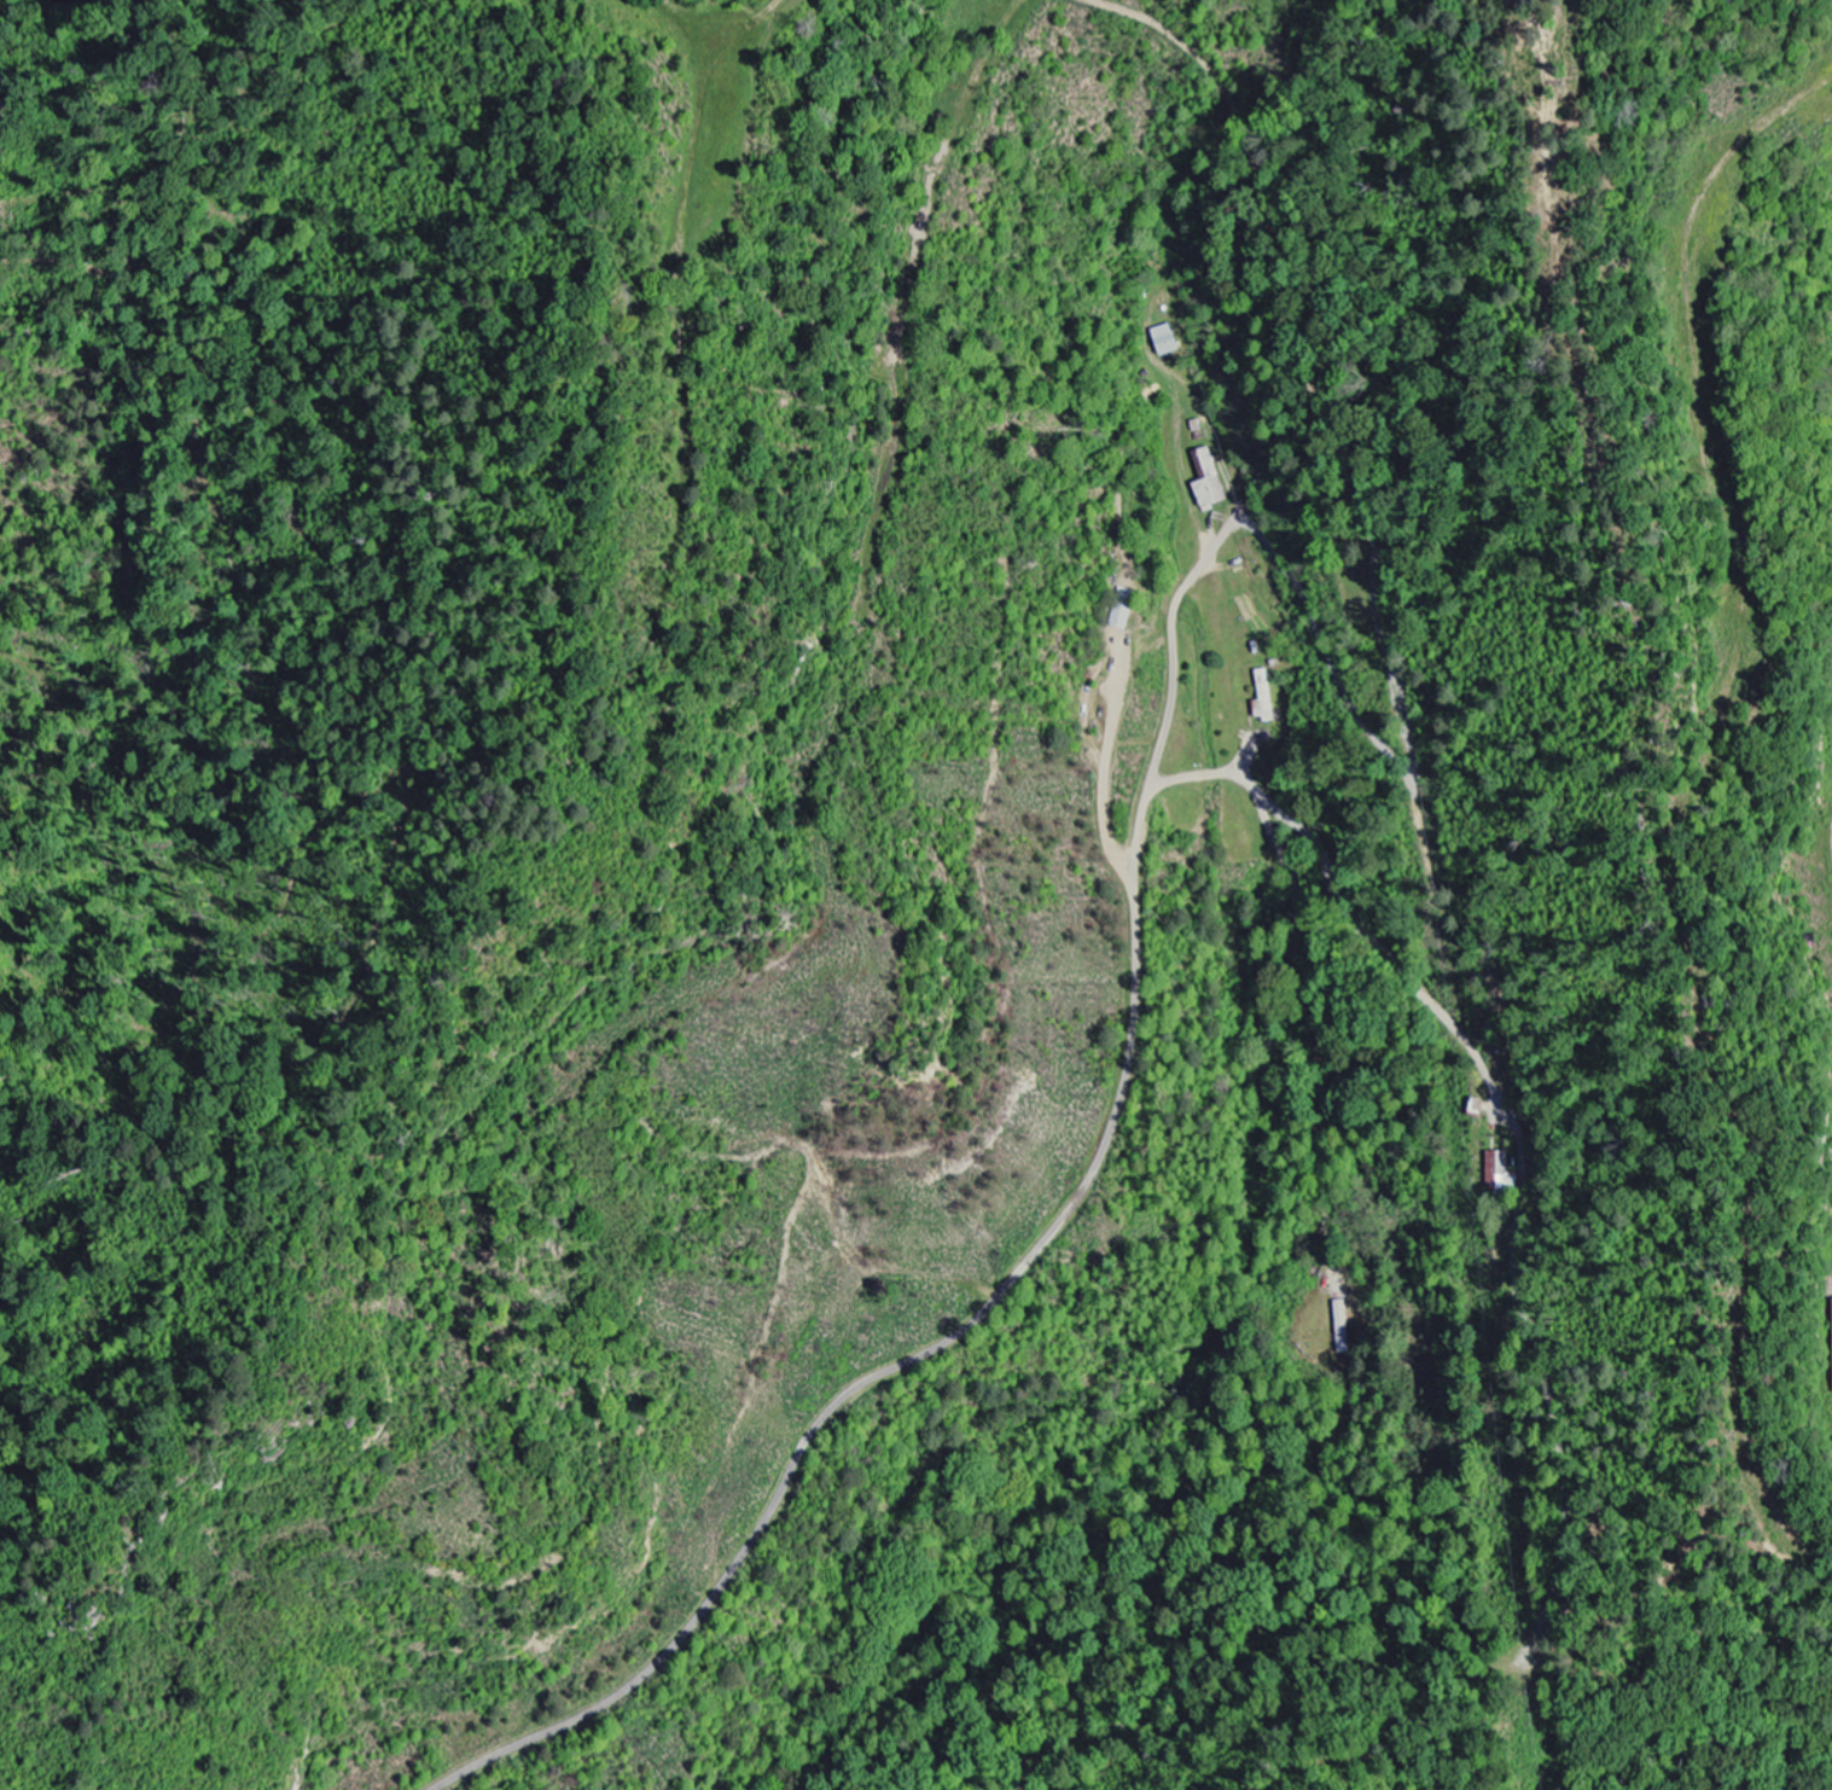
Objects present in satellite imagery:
building: (1164, 341)
building: (1205, 481)
road: (1203, 560)
road: (1514, 1123)
building: (1496, 1170)
road: (987, 1307)
building: (1831, 1343)

